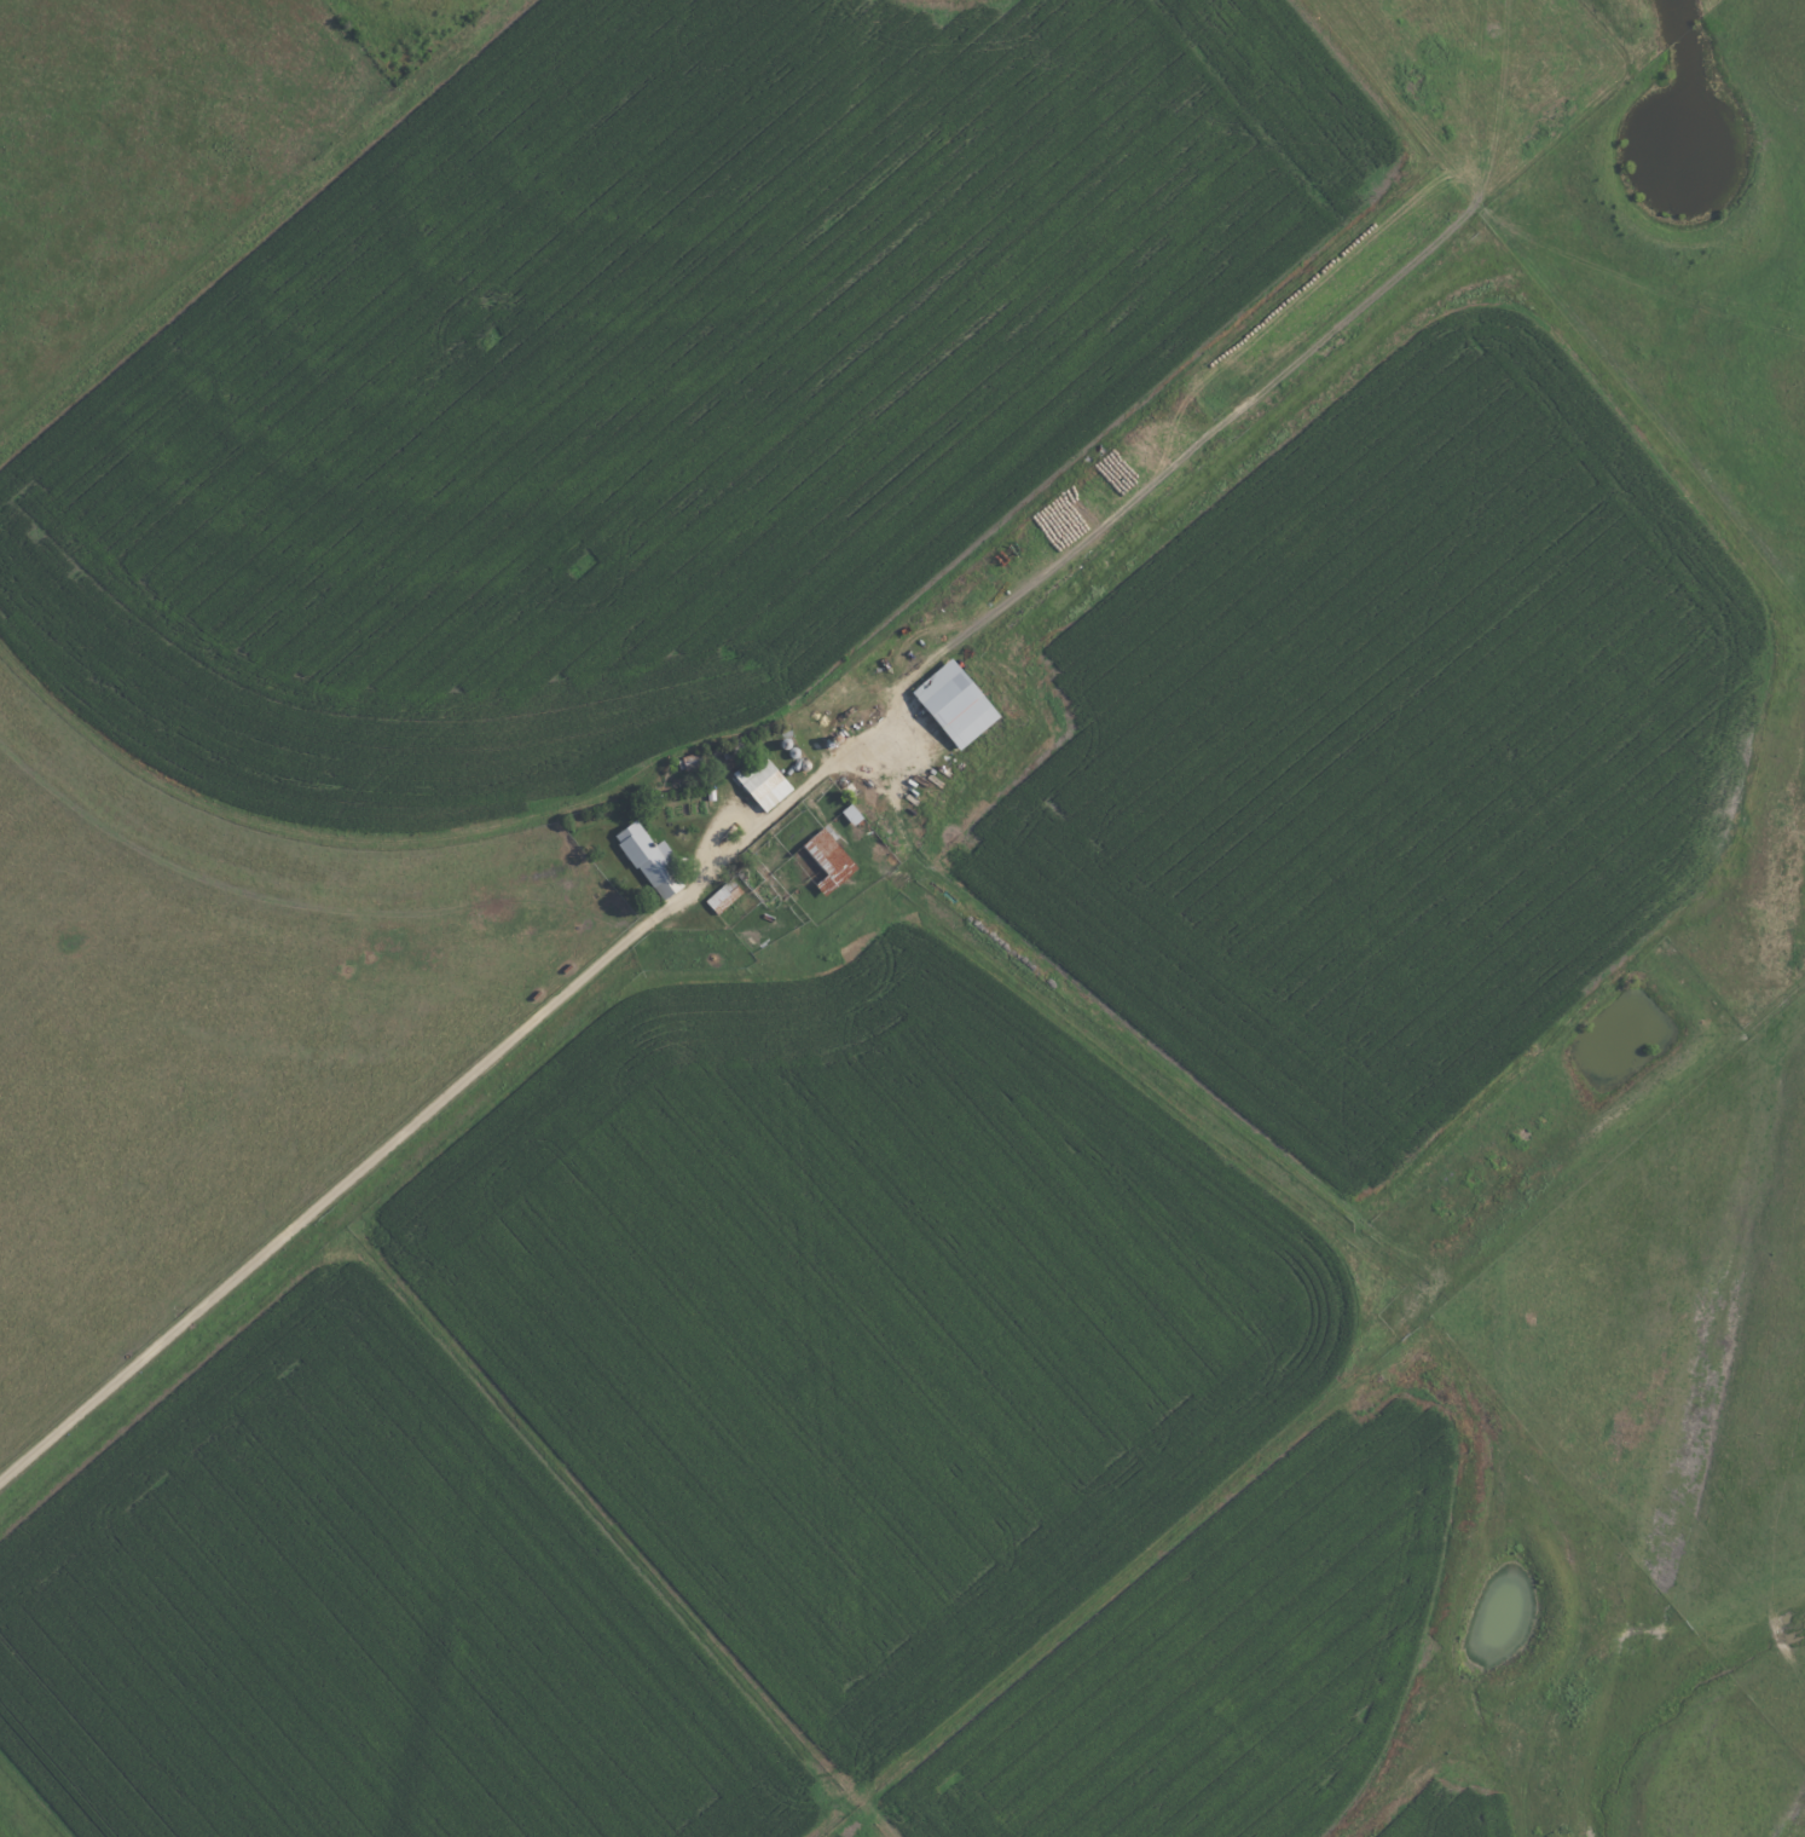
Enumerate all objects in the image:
road: (1580, 111)
building: (960, 701)
building: (765, 780)
building: (855, 814)
road: (748, 837)
building: (654, 860)
building: (832, 860)
building: (725, 894)

